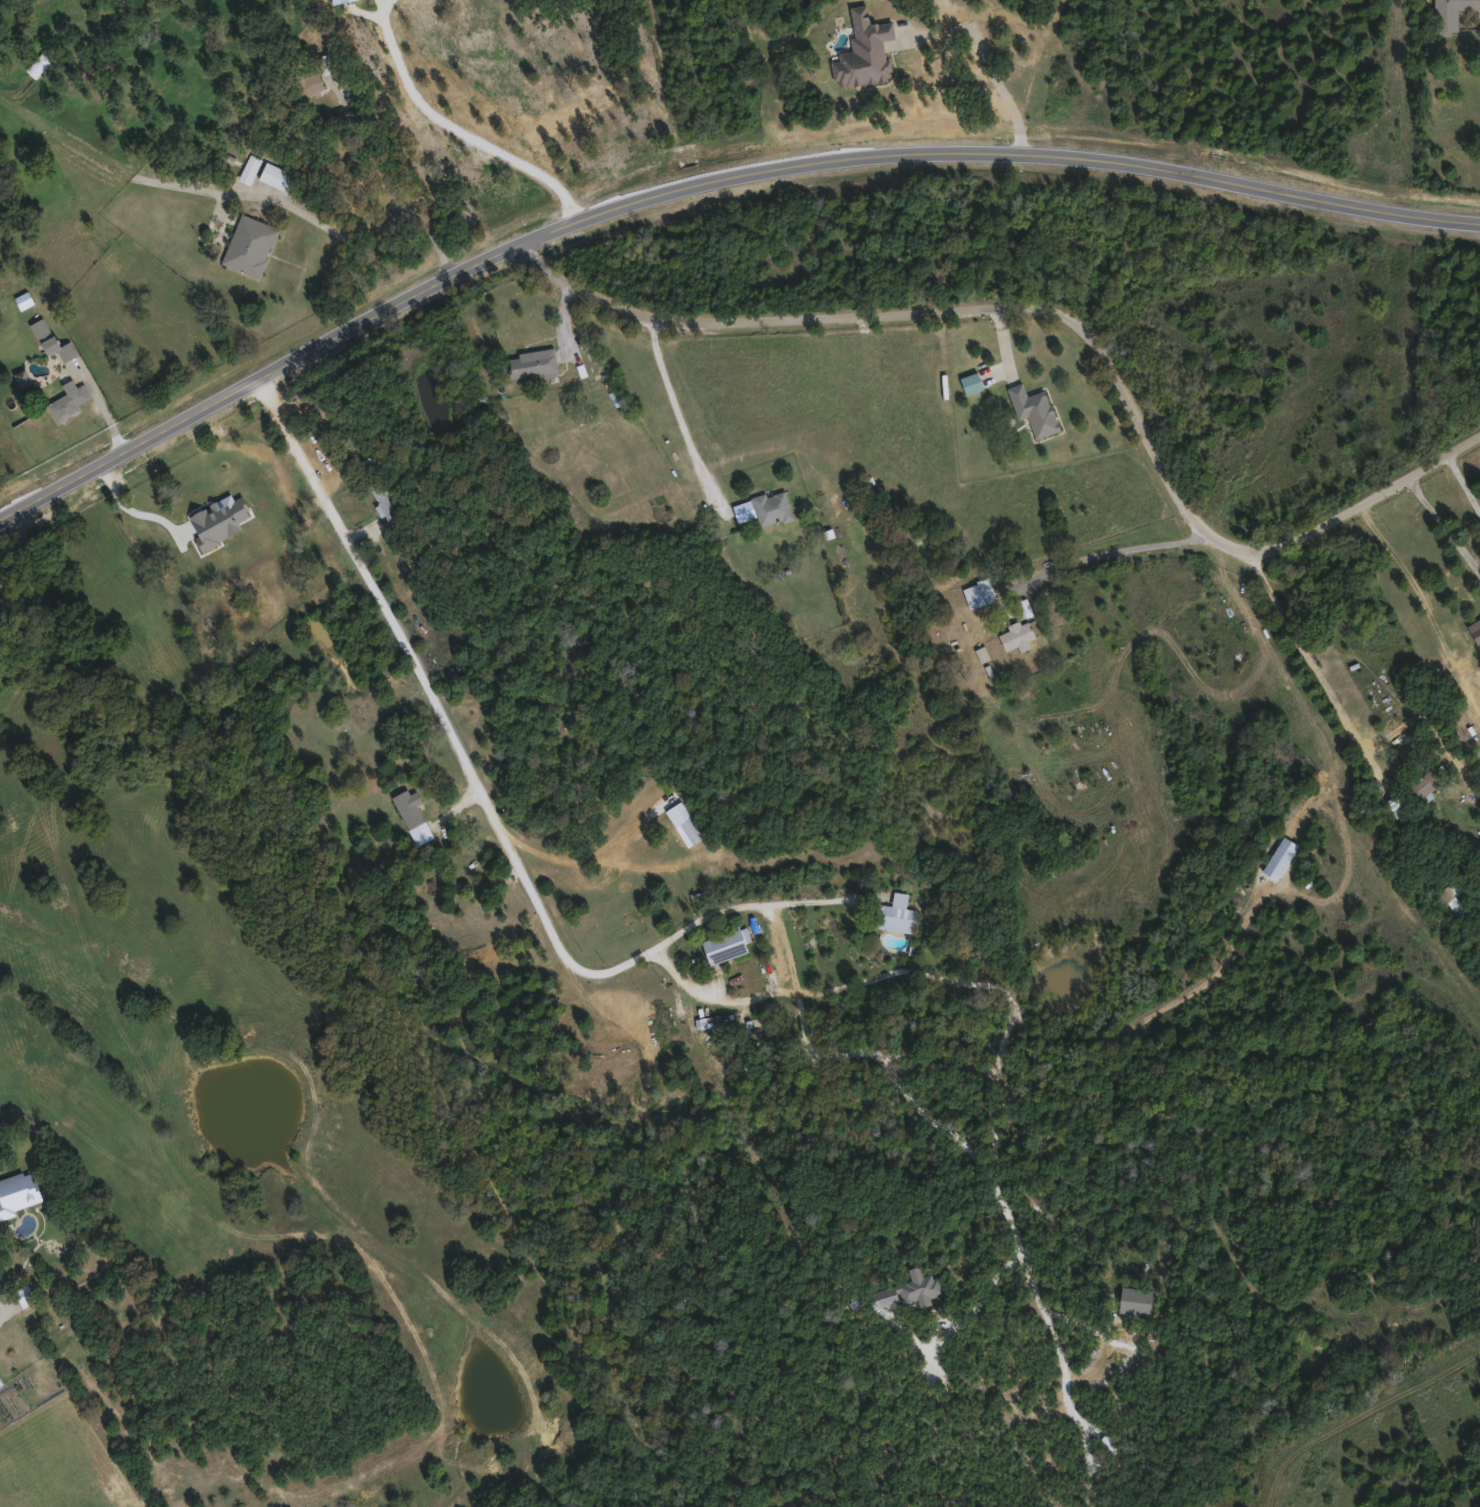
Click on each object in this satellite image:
building: (1452, 12)
building: (865, 50)
road: (993, 59)
building: (38, 64)
building: (309, 81)
road: (459, 130)
building: (250, 167)
building: (276, 175)
road: (704, 180)
road: (387, 181)
road: (307, 215)
building: (249, 244)
road: (1030, 274)
road: (695, 299)
road: (1061, 314)
building: (52, 339)
building: (533, 363)
building: (68, 400)
road: (103, 407)
road: (682, 408)
building: (1035, 408)
building: (324, 411)
road: (1165, 431)
road: (1465, 481)
building: (383, 500)
building: (145, 506)
building: (772, 507)
road: (134, 510)
road: (1447, 523)
building: (215, 532)
road: (1121, 545)
road: (540, 620)
building: (1018, 635)
road: (1319, 658)
building: (1425, 784)
road: (484, 800)
building: (1397, 805)
building: (413, 816)
building: (1452, 898)
building: (897, 914)
building: (725, 945)
road: (1011, 985)
building: (18, 1193)
building: (25, 1295)
building: (1, 1383)

